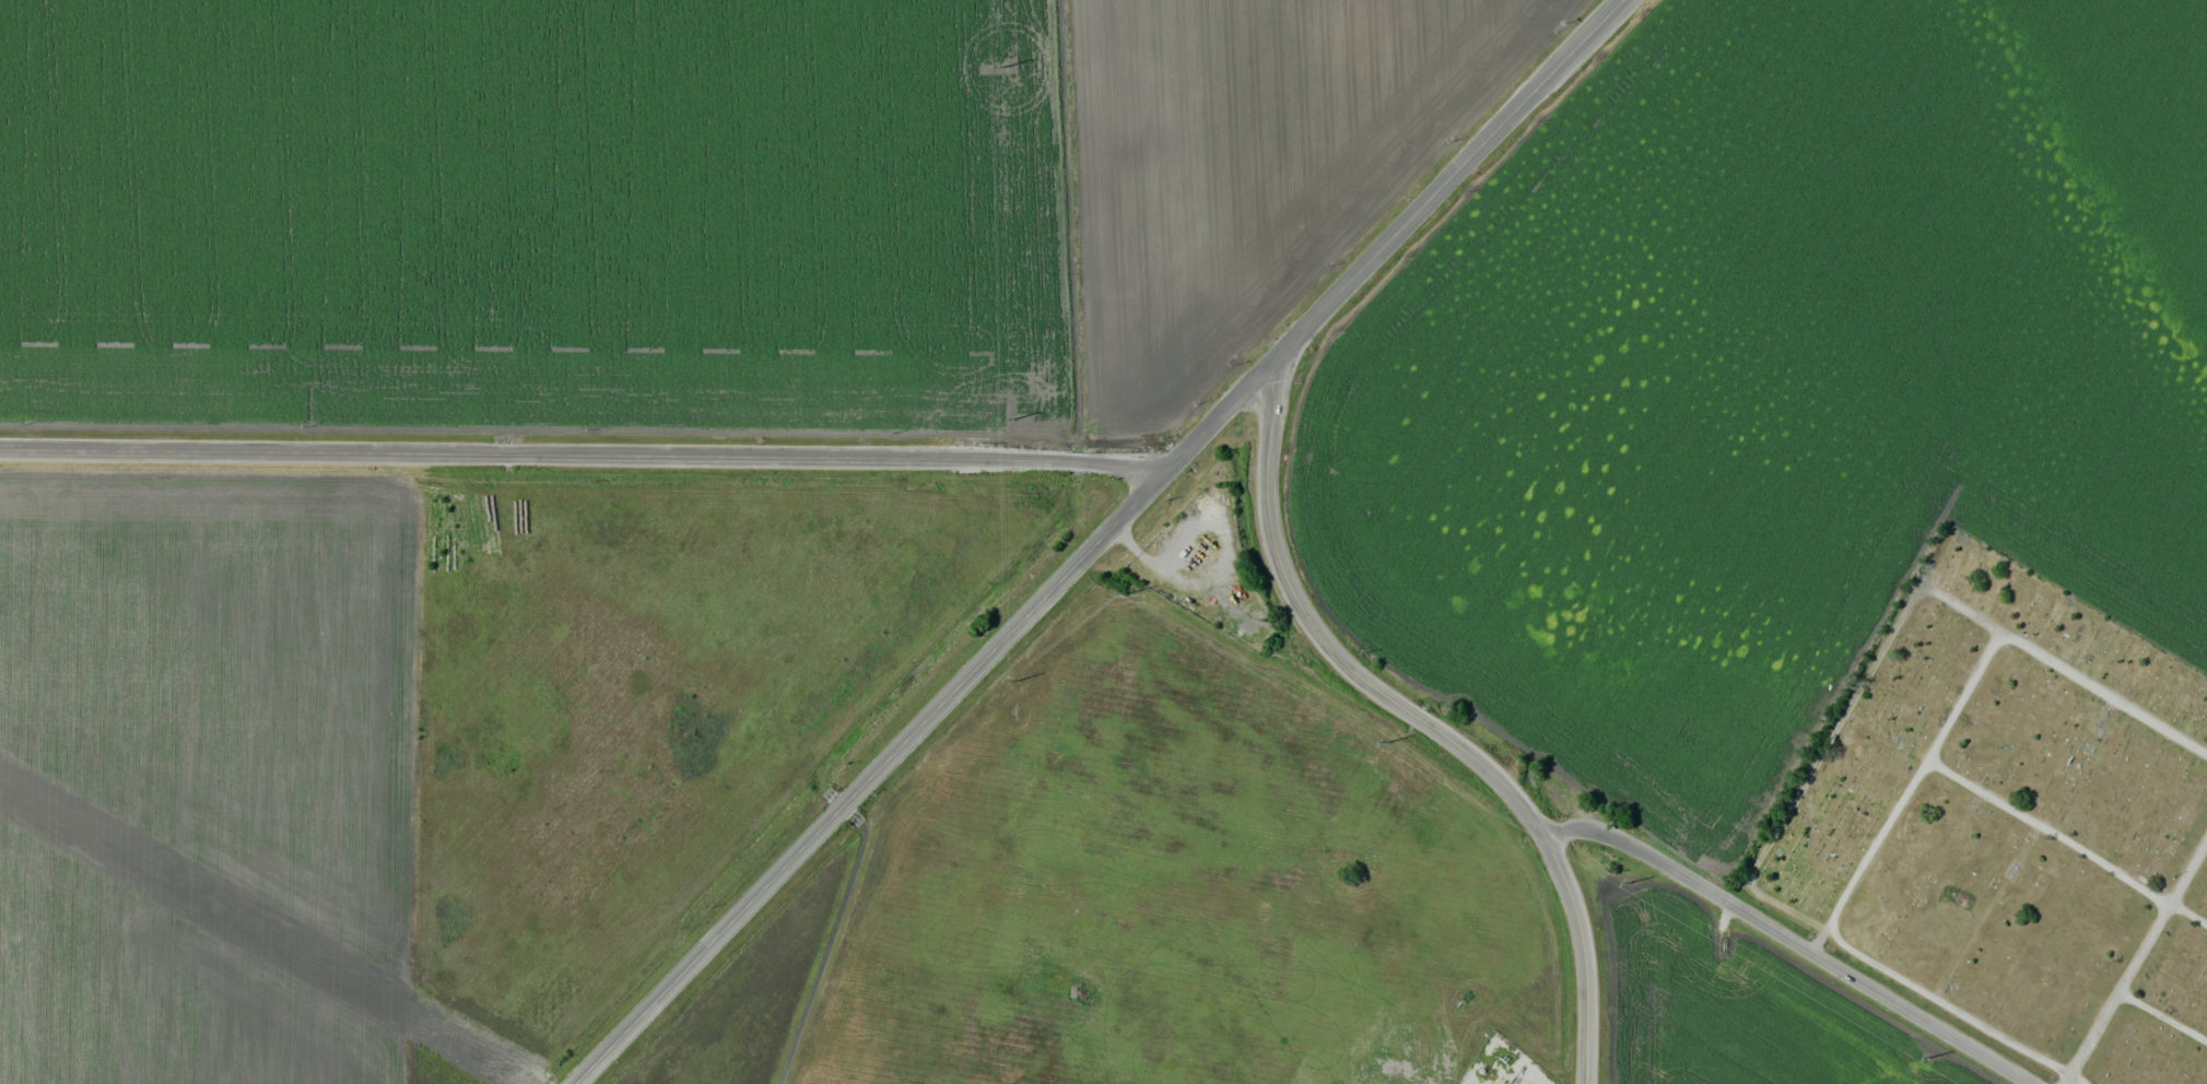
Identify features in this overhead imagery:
power tower: (1005, 67)
road: (1395, 233)
power tower: (1011, 420)
road: (584, 452)
power tower: (1128, 592)
road: (2068, 669)
power tower: (1016, 680)
road: (1414, 711)
power tower: (1387, 742)
road: (871, 777)
road: (1912, 778)
park: (2014, 822)
road: (2066, 838)
power tower: (1629, 883)
road: (1791, 940)
road: (2134, 961)
road: (1957, 1014)
road: (2161, 1015)
power tower: (1928, 1058)

